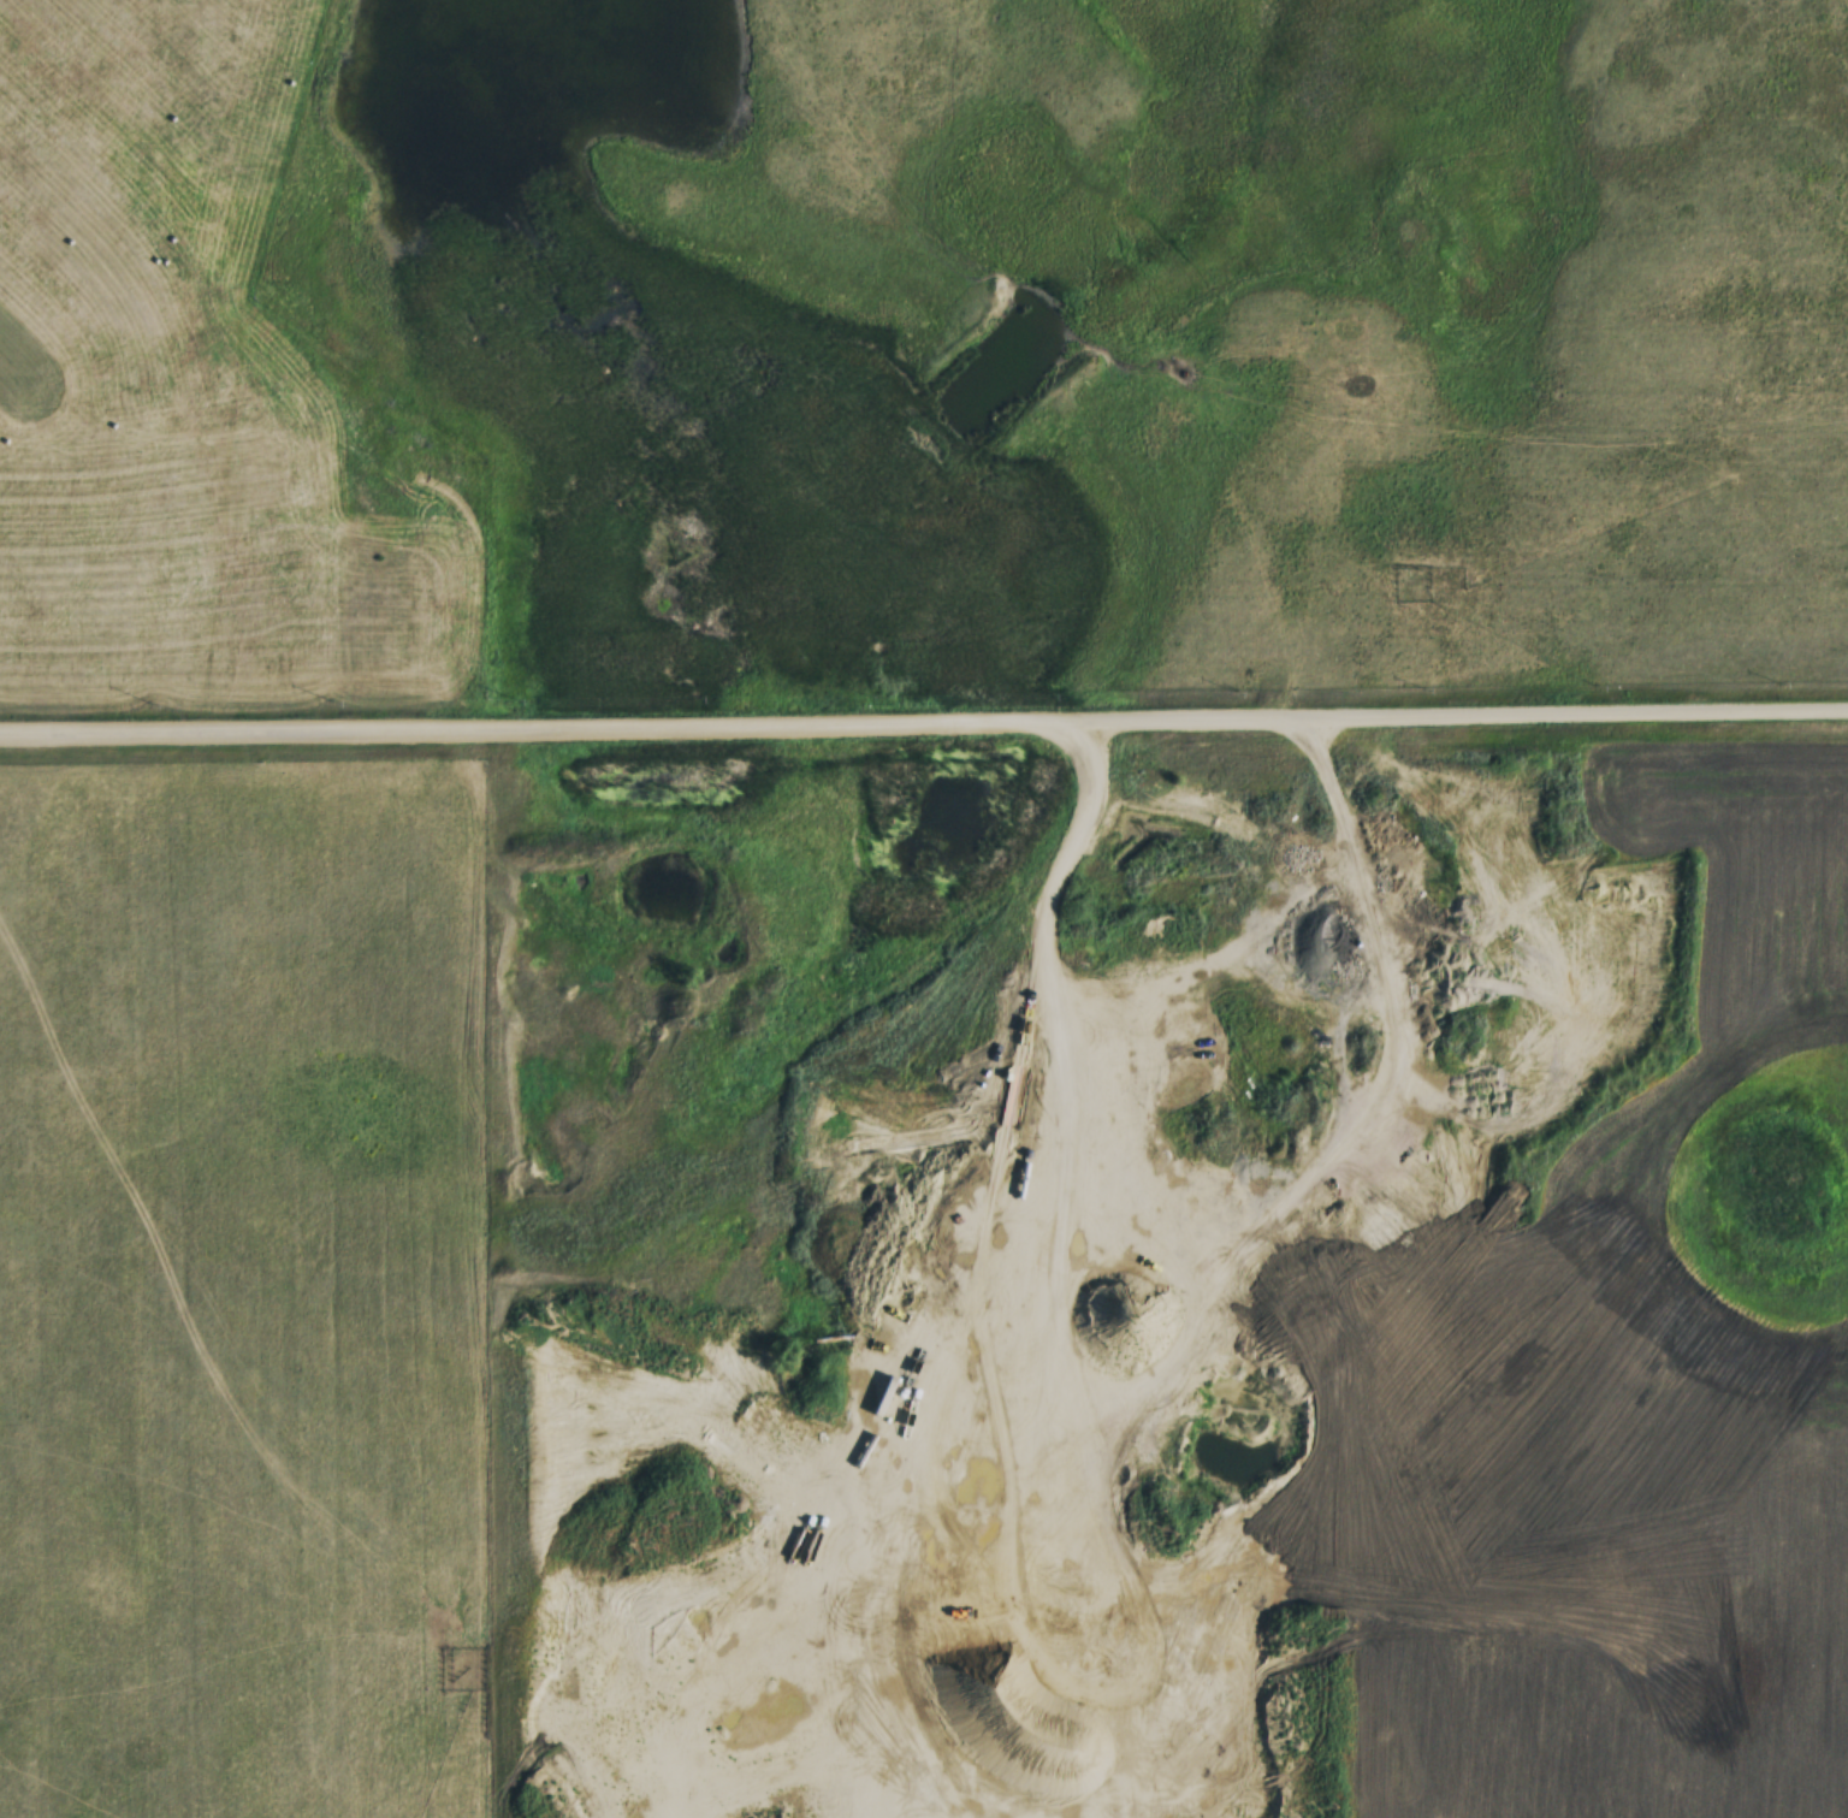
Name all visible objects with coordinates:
airport runway: (14, 385)
road: (924, 732)

